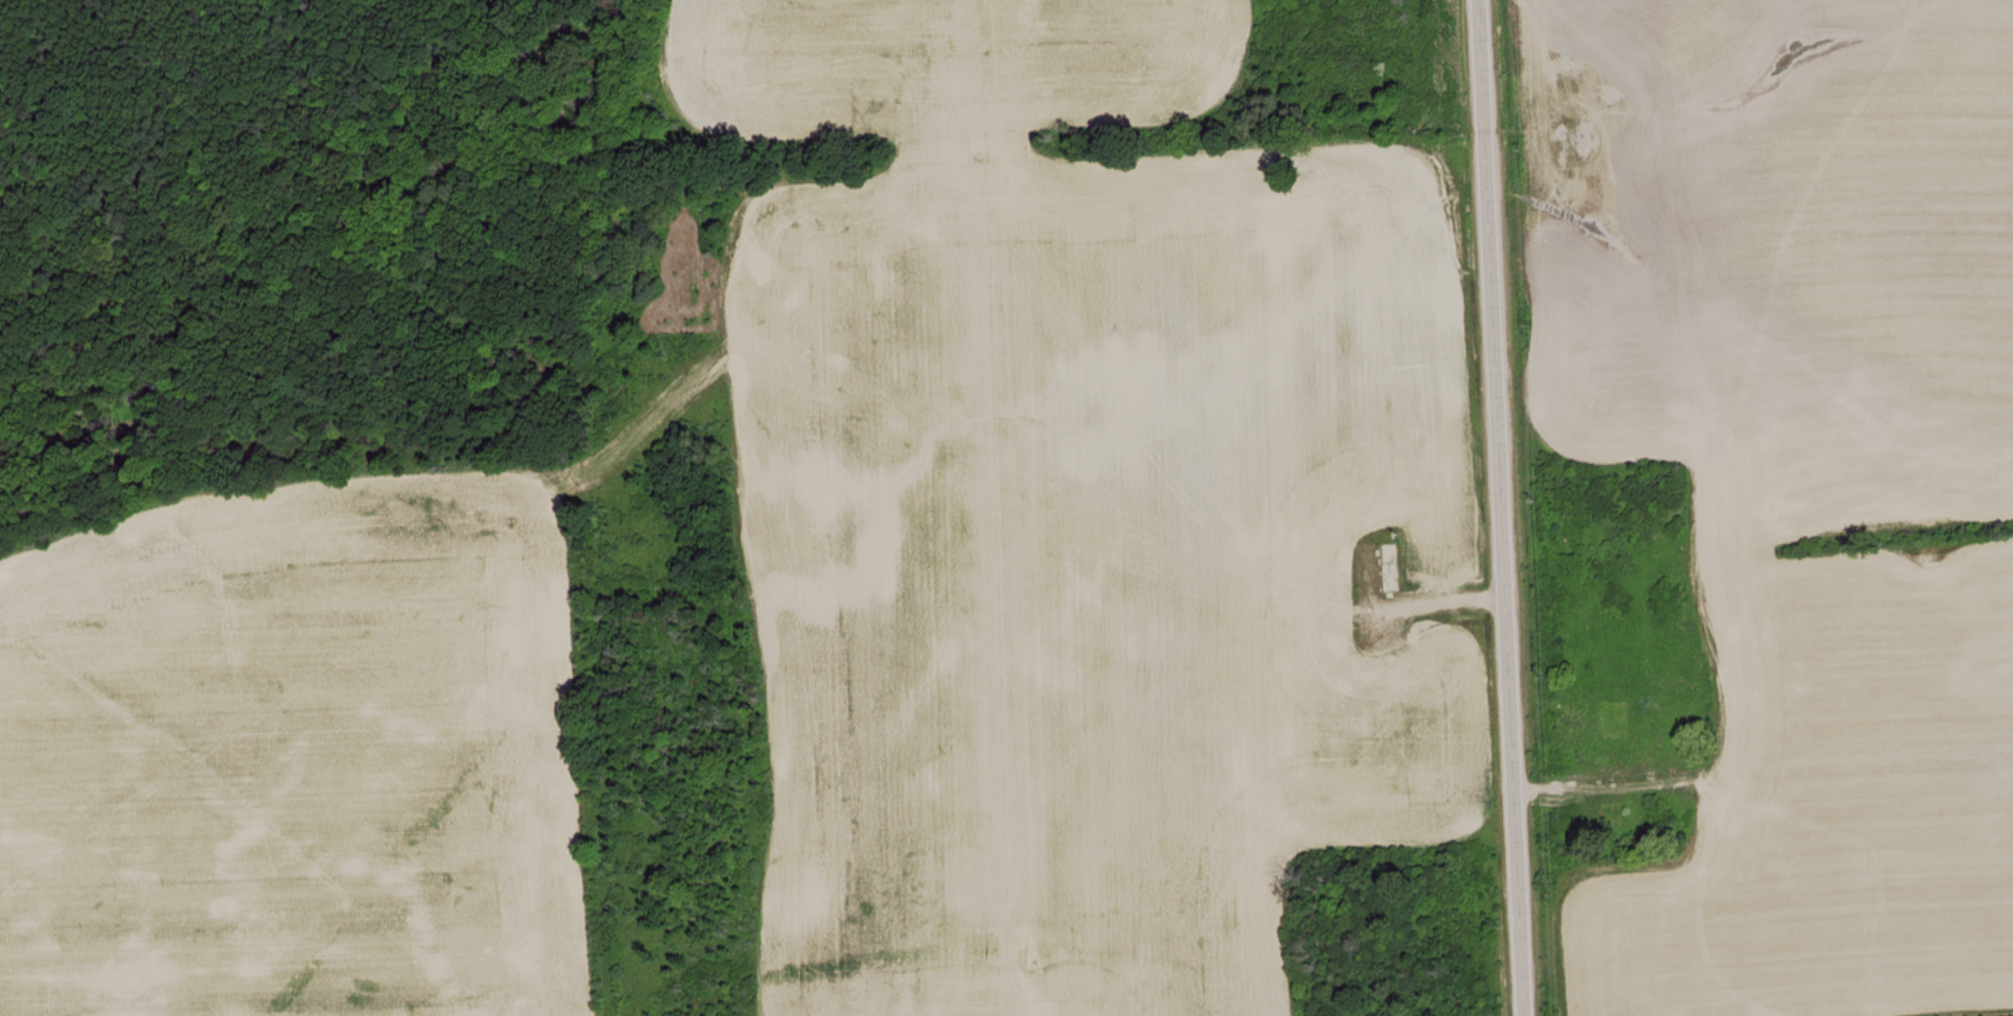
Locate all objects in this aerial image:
road: (1498, 508)

